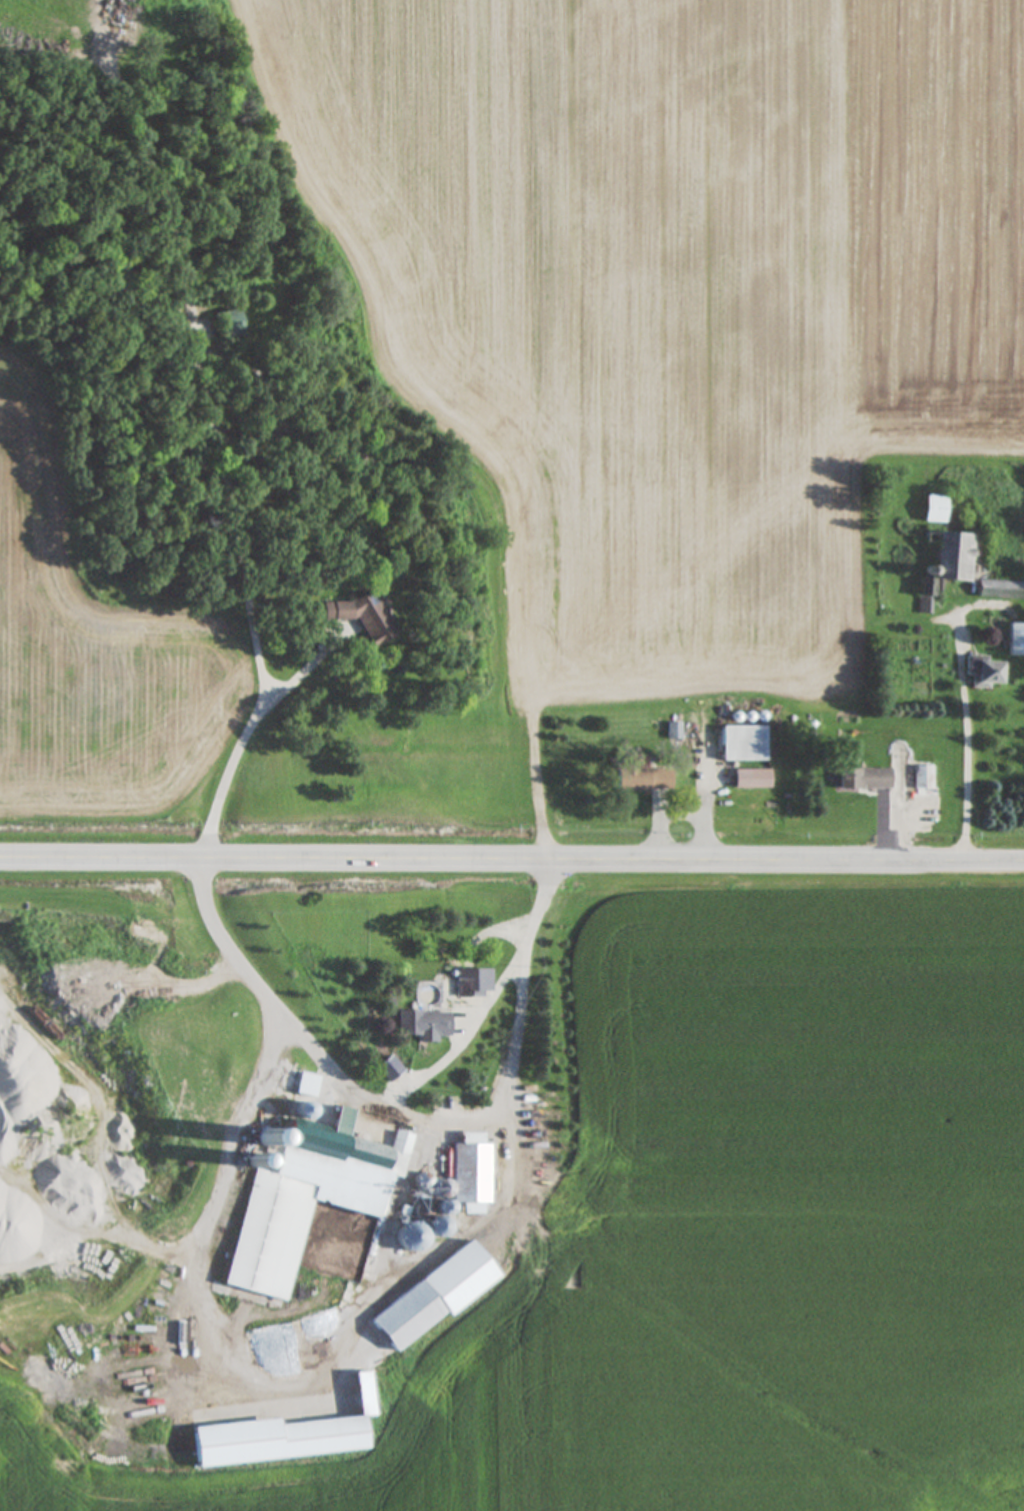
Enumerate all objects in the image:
building: (228, 325)
building: (936, 510)
building: (948, 567)
building: (1001, 590)
building: (362, 620)
road: (257, 637)
building: (1017, 641)
building: (987, 674)
road: (967, 721)
building: (675, 732)
building: (745, 744)
building: (642, 775)
building: (923, 778)
building: (753, 779)
building: (865, 780)
road: (706, 806)
road: (511, 870)
building: (474, 982)
building: (422, 1025)
building: (307, 1085)
road: (377, 1095)
building: (473, 1173)
building: (444, 1196)
quarry: (212, 1197)
building: (313, 1201)
building: (413, 1236)
building: (435, 1296)

